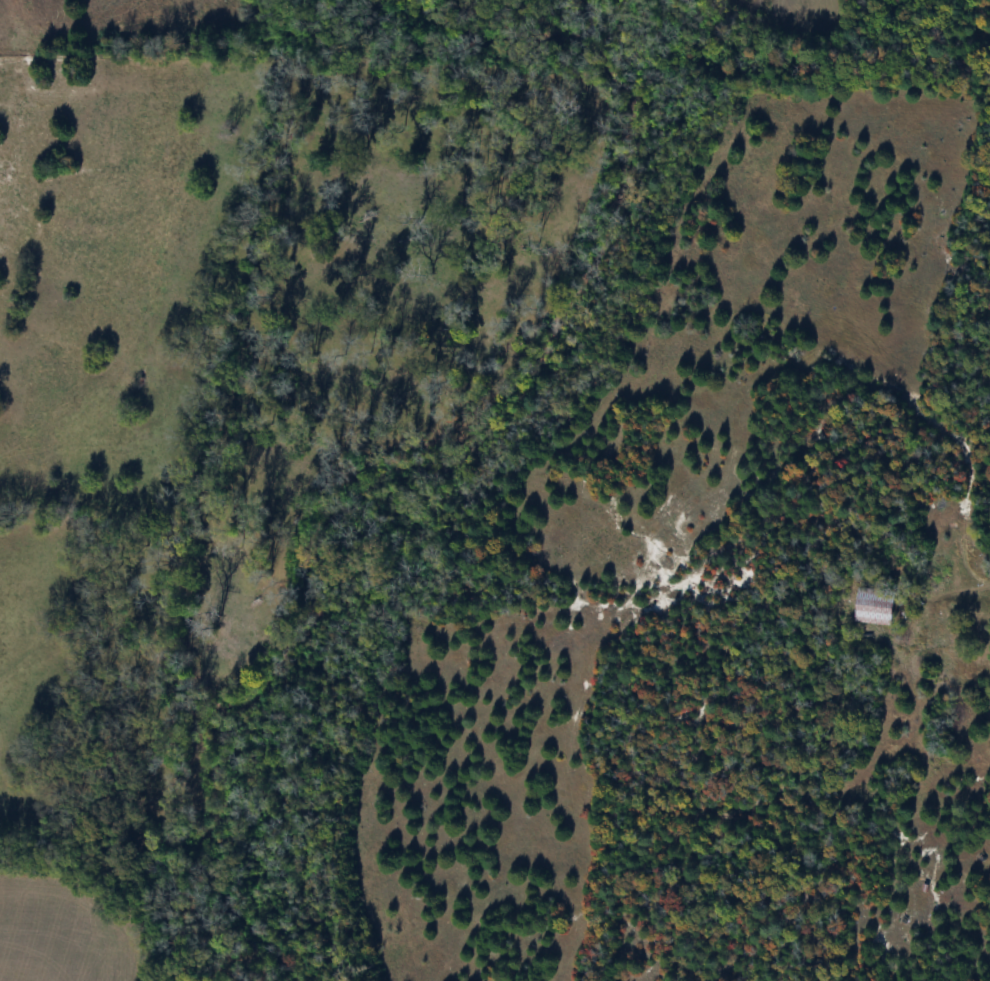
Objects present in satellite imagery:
road: (968, 589)
building: (872, 606)

